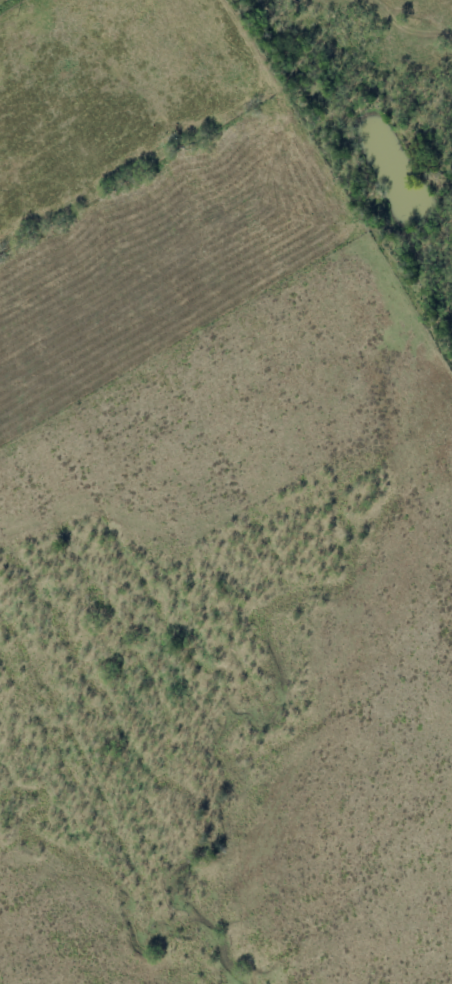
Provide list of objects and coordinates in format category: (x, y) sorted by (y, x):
road: (80, 63)

